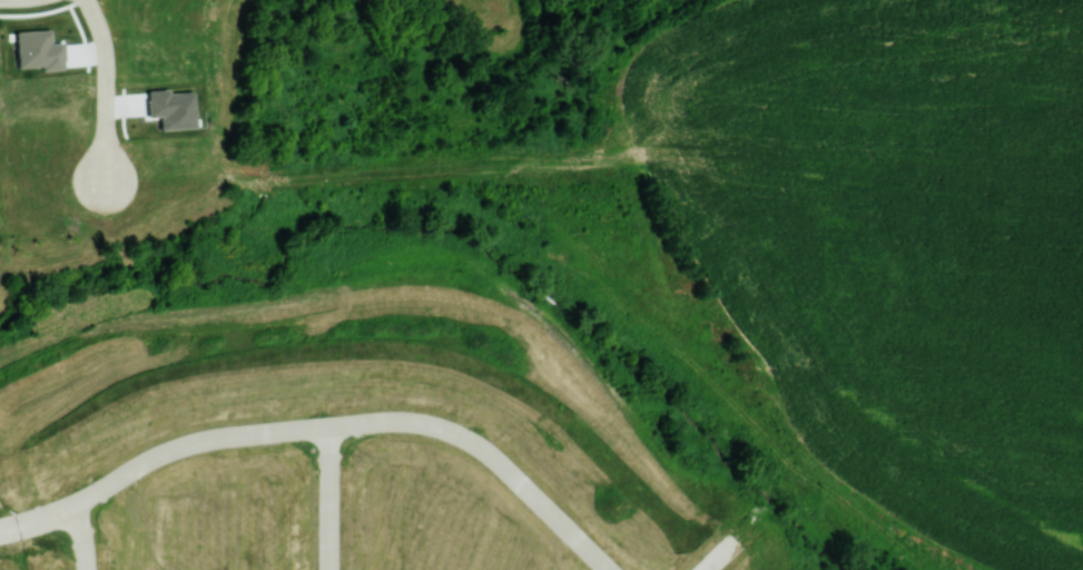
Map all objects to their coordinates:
building: (36, 49)
road: (105, 90)
building: (170, 107)
road: (322, 425)
road: (325, 498)
road: (82, 537)
road: (715, 557)

